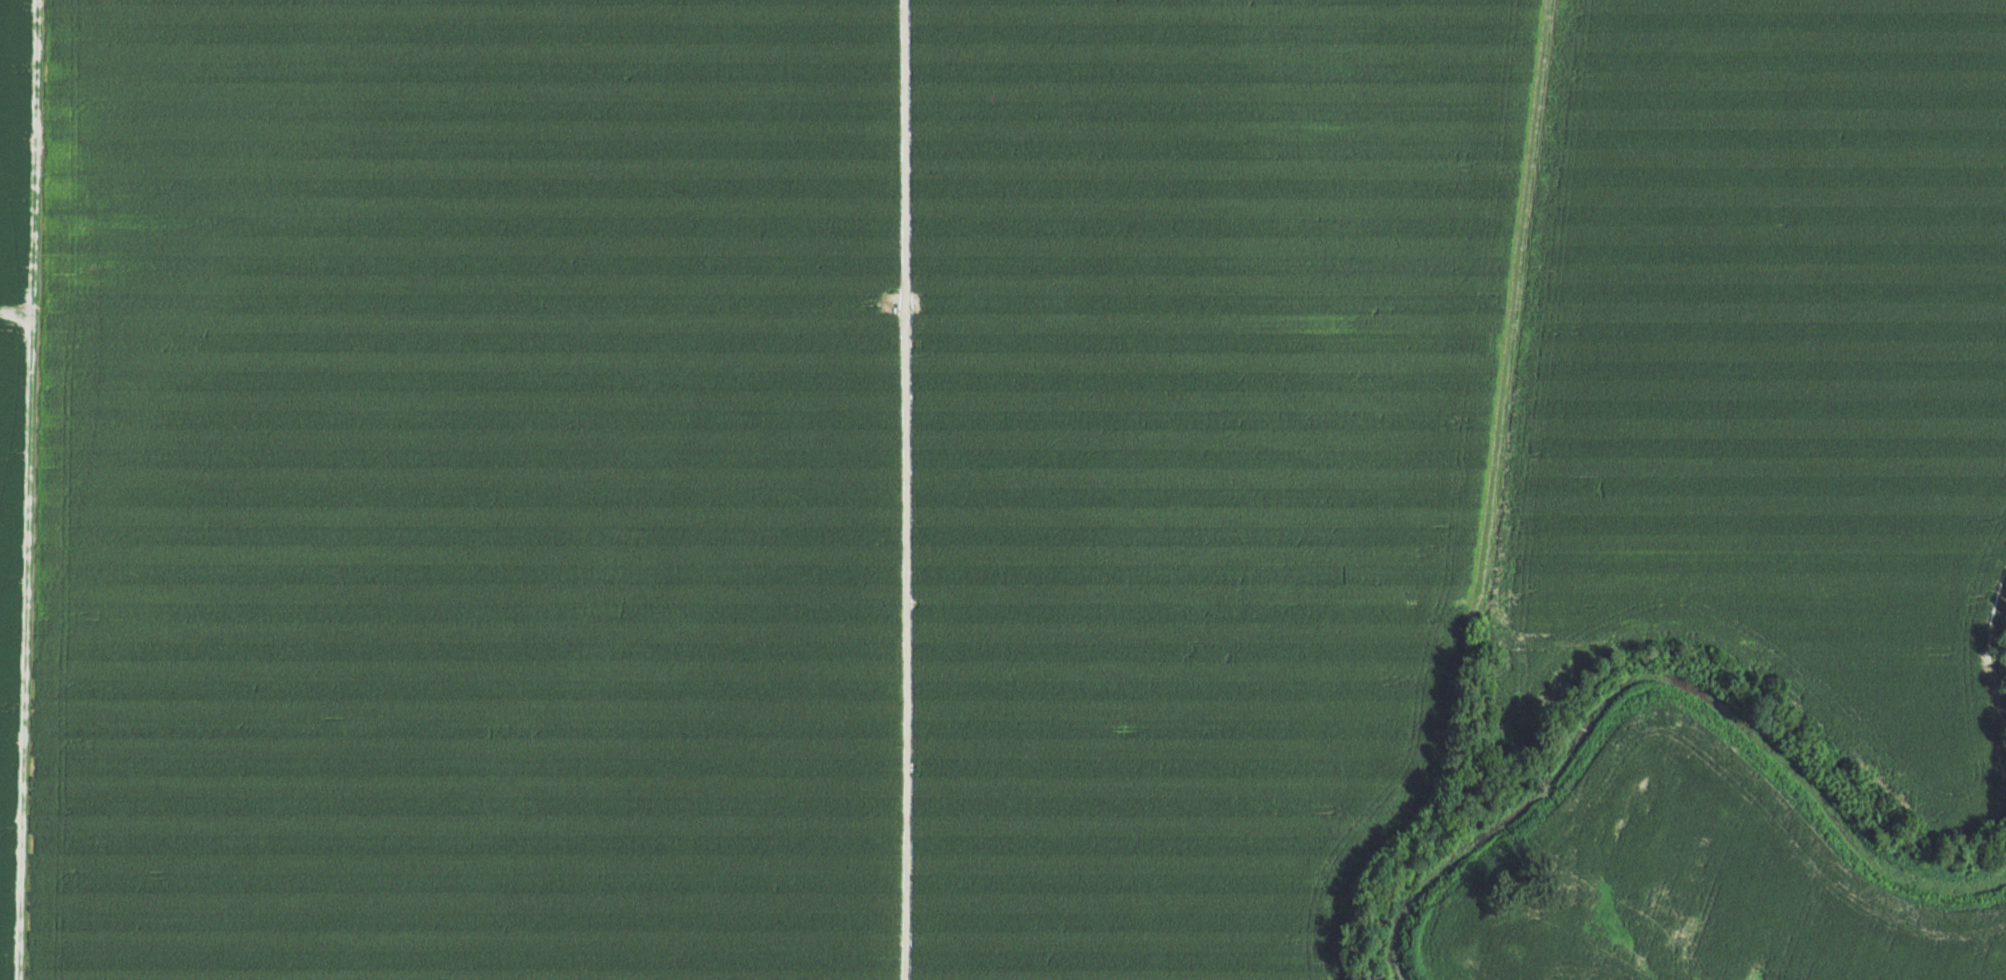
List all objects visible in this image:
road: (911, 490)
road: (1480, 508)

